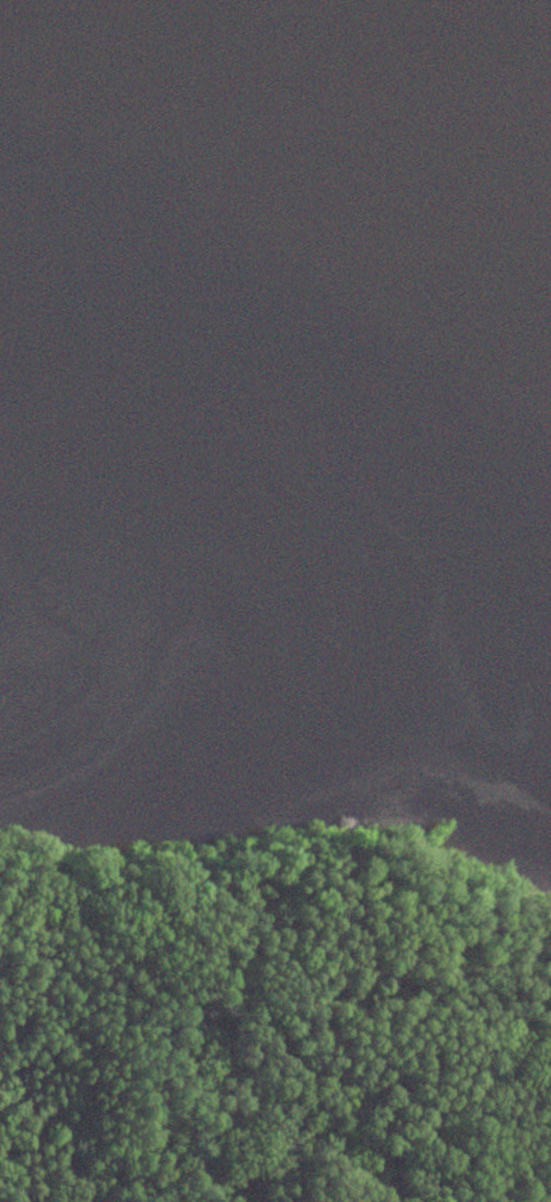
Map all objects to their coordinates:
river: (256, 296)

